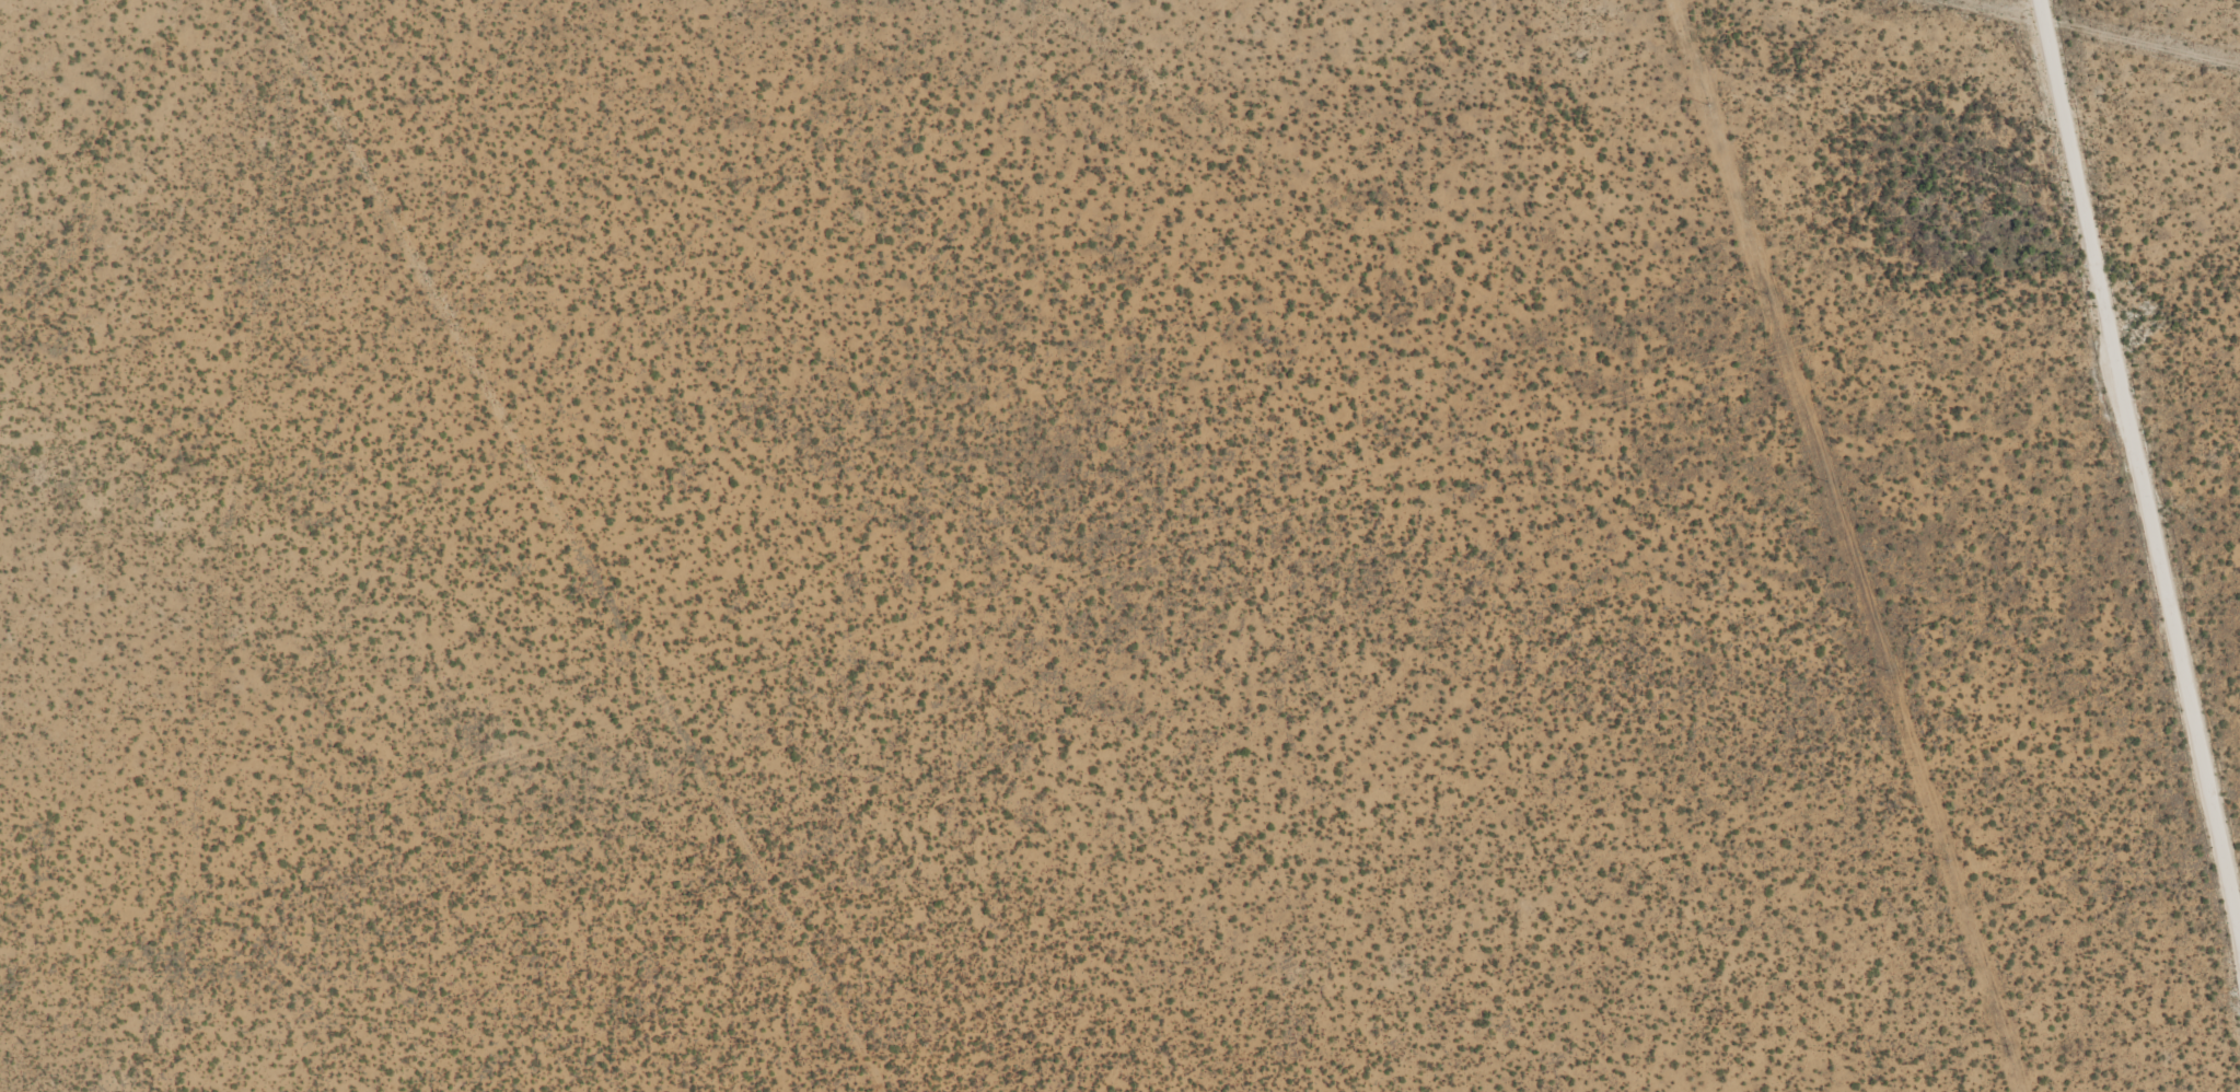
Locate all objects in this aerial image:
road: (2042, 45)
road: (2136, 473)

